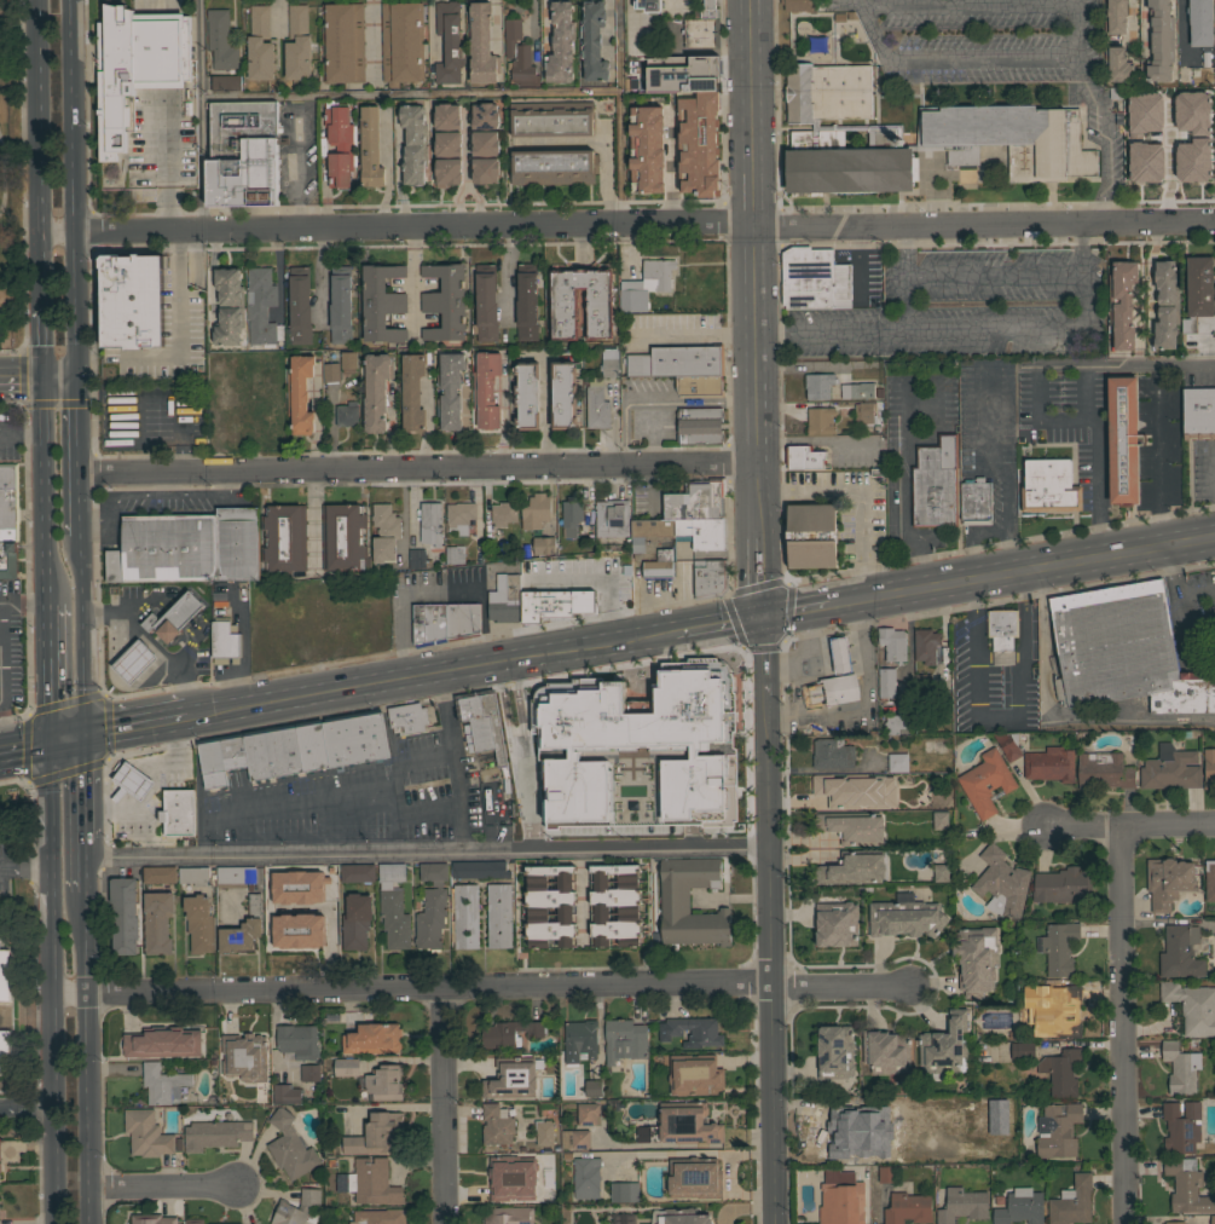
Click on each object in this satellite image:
road: (1072, 1)
road: (860, 2)
road: (667, 4)
road: (967, 4)
building: (647, 5)
building: (798, 5)
building: (708, 8)
building: (550, 13)
building: (1115, 16)
building: (1200, 23)
road: (432, 30)
road: (1180, 31)
building: (701, 33)
building: (1211, 36)
road: (371, 39)
building: (220, 40)
building: (1147, 40)
building: (594, 41)
building: (1161, 41)
building: (342, 42)
building: (401, 42)
building: (449, 42)
building: (297, 44)
building: (561, 44)
building: (259, 45)
building: (481, 45)
building: (517, 54)
building: (1190, 57)
road: (950, 62)
building: (1117, 64)
building: (135, 67)
building: (693, 71)
building: (225, 82)
road: (410, 96)
road: (1098, 109)
building: (1180, 112)
road: (621, 114)
road: (199, 115)
building: (398, 115)
building: (485, 115)
building: (447, 116)
building: (551, 119)
building: (997, 128)
building: (413, 143)
building: (485, 143)
building: (449, 144)
building: (698, 144)
building: (340, 145)
building: (370, 148)
road: (465, 149)
building: (647, 149)
road: (37, 152)
building: (242, 154)
building: (1144, 156)
building: (1181, 161)
building: (400, 166)
building: (552, 166)
road: (297, 167)
road: (387, 168)
building: (486, 171)
building: (447, 172)
building: (358, 175)
building: (428, 179)
road: (0, 183)
park: (10, 184)
road: (73, 189)
road: (478, 204)
road: (455, 206)
road: (626, 227)
road: (752, 270)
road: (320, 273)
road: (505, 278)
building: (814, 278)
road: (898, 278)
road: (989, 279)
road: (412, 282)
building: (1214, 283)
building: (644, 284)
building: (1197, 290)
building: (132, 300)
building: (329, 301)
building: (445, 301)
building: (598, 301)
building: (382, 302)
building: (485, 302)
building: (526, 302)
building: (1110, 304)
building: (1122, 304)
building: (341, 305)
building: (1152, 305)
building: (1165, 305)
building: (228, 306)
building: (475, 306)
building: (260, 308)
building: (300, 314)
road: (173, 316)
building: (1214, 328)
road: (972, 333)
road: (693, 334)
road: (41, 342)
building: (609, 360)
building: (677, 360)
building: (347, 362)
building: (330, 373)
road: (59, 379)
traffic signals: (76, 379)
road: (21, 380)
traffic signals: (42, 380)
building: (288, 385)
building: (818, 385)
building: (698, 386)
building: (450, 389)
building: (376, 391)
building: (484, 391)
building: (855, 391)
building: (411, 392)
building: (876, 393)
building: (300, 394)
building: (523, 396)
building: (561, 396)
building: (596, 404)
road: (42, 408)
building: (438, 408)
building: (863, 412)
building: (1198, 412)
building: (347, 414)
building: (820, 421)
building: (699, 425)
road: (1090, 425)
road: (77, 426)
road: (1161, 426)
road: (22, 435)
building: (1121, 441)
building: (804, 457)
road: (417, 468)
road: (996, 470)
building: (935, 484)
road: (907, 485)
building: (1048, 486)
road: (864, 489)
building: (695, 501)
building: (8, 502)
road: (79, 503)
building: (972, 503)
building: (536, 510)
building: (503, 513)
building: (569, 515)
building: (458, 516)
building: (612, 518)
road: (45, 520)
building: (430, 522)
building: (384, 532)
building: (509, 532)
building: (702, 532)
building: (811, 536)
building: (284, 537)
building: (343, 537)
road: (970, 538)
building: (543, 544)
building: (186, 547)
building: (663, 550)
building: (452, 555)
building: (7, 559)
building: (417, 559)
road: (1020, 570)
road: (569, 577)
road: (757, 577)
building: (711, 579)
road: (436, 588)
road: (1175, 589)
building: (503, 600)
building: (216, 602)
building: (552, 604)
road: (23, 605)
road: (793, 608)
road: (1024, 608)
road: (607, 610)
building: (218, 611)
road: (642, 613)
road: (971, 613)
traffic signals: (762, 614)
building: (172, 618)
building: (462, 620)
road: (717, 622)
building: (429, 623)
building: (1001, 628)
road: (1181, 629)
road: (81, 634)
building: (222, 640)
building: (892, 643)
building: (1112, 643)
building: (925, 645)
road: (762, 654)
road: (804, 654)
gas station: (839, 654)
road: (1188, 658)
gas station: (132, 662)
road: (47, 672)
road: (428, 675)
building: (921, 679)
building: (886, 683)
road: (973, 683)
building: (838, 689)
road: (808, 691)
building: (1186, 694)
road: (1017, 704)
road: (868, 708)
building: (407, 716)
road: (10, 717)
building: (895, 722)
building: (480, 724)
road: (134, 727)
road: (0, 734)
traffic signals: (85, 735)
road: (66, 738)
traffic signals: (50, 741)
road: (24, 744)
building: (1007, 744)
building: (295, 749)
building: (637, 749)
building: (832, 752)
road: (516, 757)
road: (411, 758)
building: (897, 762)
road: (452, 763)
building: (1049, 763)
building: (1170, 768)
building: (1209, 768)
building: (1104, 770)
gas station: (132, 780)
building: (120, 781)
building: (985, 781)
road: (87, 787)
building: (828, 787)
building: (863, 792)
building: (873, 801)
road: (312, 802)
building: (177, 812)
building: (939, 820)
building: (852, 827)
road: (1132, 832)
road: (427, 854)
road: (51, 867)
road: (88, 867)
building: (852, 867)
road: (25, 868)
building: (479, 868)
building: (357, 872)
building: (941, 872)
building: (282, 873)
building: (319, 873)
building: (158, 874)
building: (195, 876)
building: (236, 877)
building: (1209, 879)
building: (1168, 881)
building: (1001, 883)
building: (1063, 885)
road: (583, 891)
building: (673, 897)
building: (393, 905)
building: (549, 905)
building: (614, 905)
building: (432, 907)
building: (125, 914)
building: (465, 916)
building: (498, 916)
building: (906, 918)
building: (355, 920)
building: (157, 922)
building: (280, 922)
building: (322, 922)
building: (199, 923)
building: (835, 923)
building: (242, 929)
building: (1059, 947)
building: (1180, 952)
road: (766, 959)
building: (976, 959)
building: (4, 975)
road: (410, 987)
road: (838, 988)
building: (1192, 1006)
building: (1064, 1015)
road: (1122, 1028)
building: (690, 1030)
building: (509, 1033)
building: (372, 1038)
road: (272, 1039)
building: (579, 1039)
building: (624, 1040)
building: (161, 1041)
building: (297, 1041)
building: (4, 1045)
building: (944, 1046)
building: (1022, 1050)
building: (834, 1051)
building: (885, 1051)
building: (243, 1057)
road: (91, 1058)
building: (346, 1067)
building: (1181, 1068)
building: (1060, 1072)
building: (693, 1073)
building: (308, 1074)
building: (510, 1079)
building: (162, 1084)
building: (383, 1084)
building: (592, 1087)
building: (283, 1095)
road: (441, 1105)
road: (54, 1109)
road: (28, 1112)
building: (588, 1114)
building: (685, 1122)
building: (497, 1125)
building: (1181, 1126)
building: (1058, 1130)
building: (146, 1132)
building: (544, 1132)
building: (215, 1133)
building: (376, 1134)
building: (574, 1138)
building: (843, 1139)
building: (289, 1148)
building: (886, 1173)
building: (511, 1177)
building: (586, 1177)
building: (696, 1178)
building: (372, 1182)
building: (1186, 1185)
road: (166, 1187)
building: (624, 1191)
building: (839, 1200)
building: (1072, 1201)
road: (876, 1205)
building: (961, 1205)
building: (296, 1207)
building: (1020, 1207)
building: (908, 1208)
building: (510, 1216)
building: (380, 1217)
building: (682, 1217)
building: (151, 1219)
building: (1213, 1219)
building: (193, 1220)
building: (227, 1223)
building: (237, 1223)
building: (1174, 1223)

